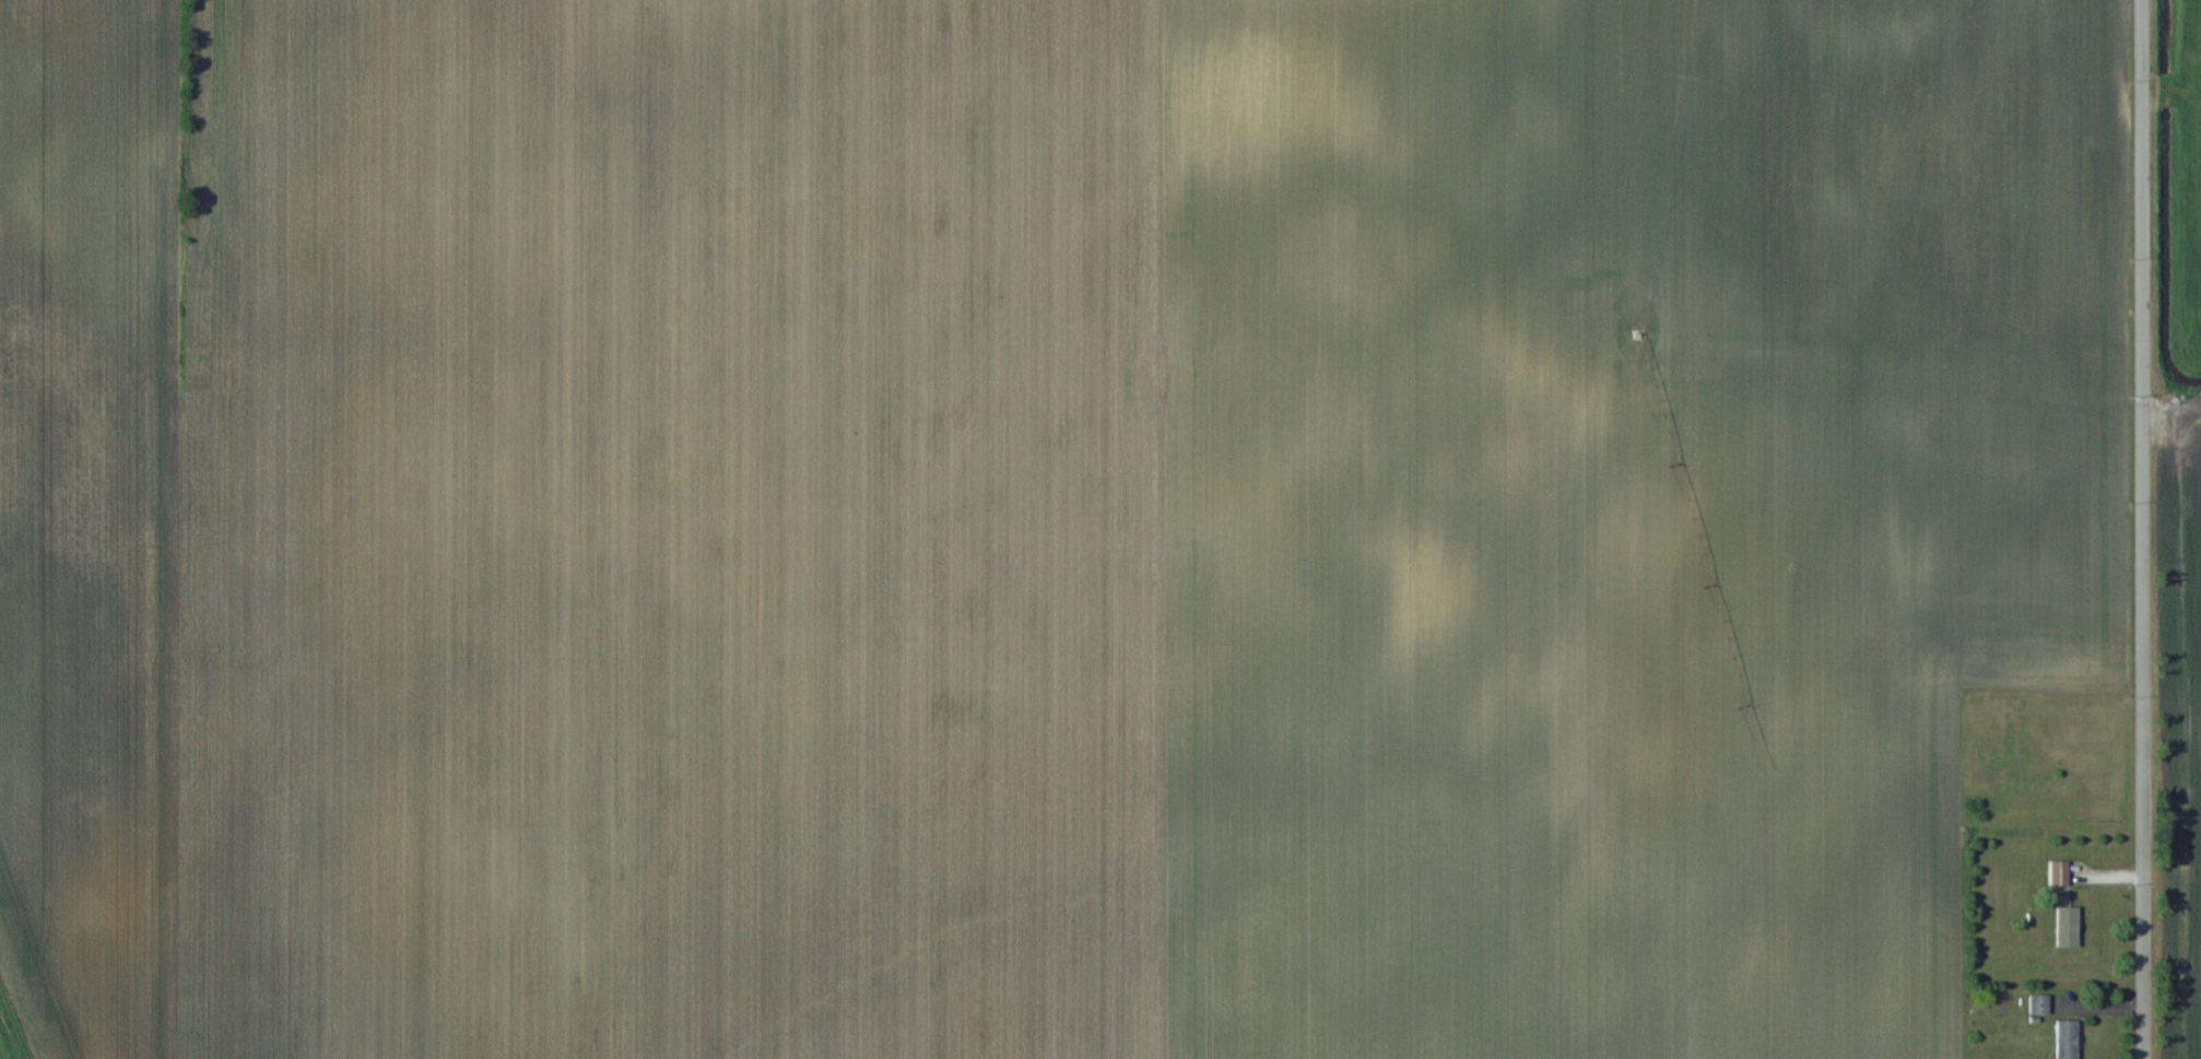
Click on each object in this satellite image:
road: (2149, 529)
building: (2057, 872)
building: (2064, 927)
building: (2037, 1003)
building: (2064, 1039)

